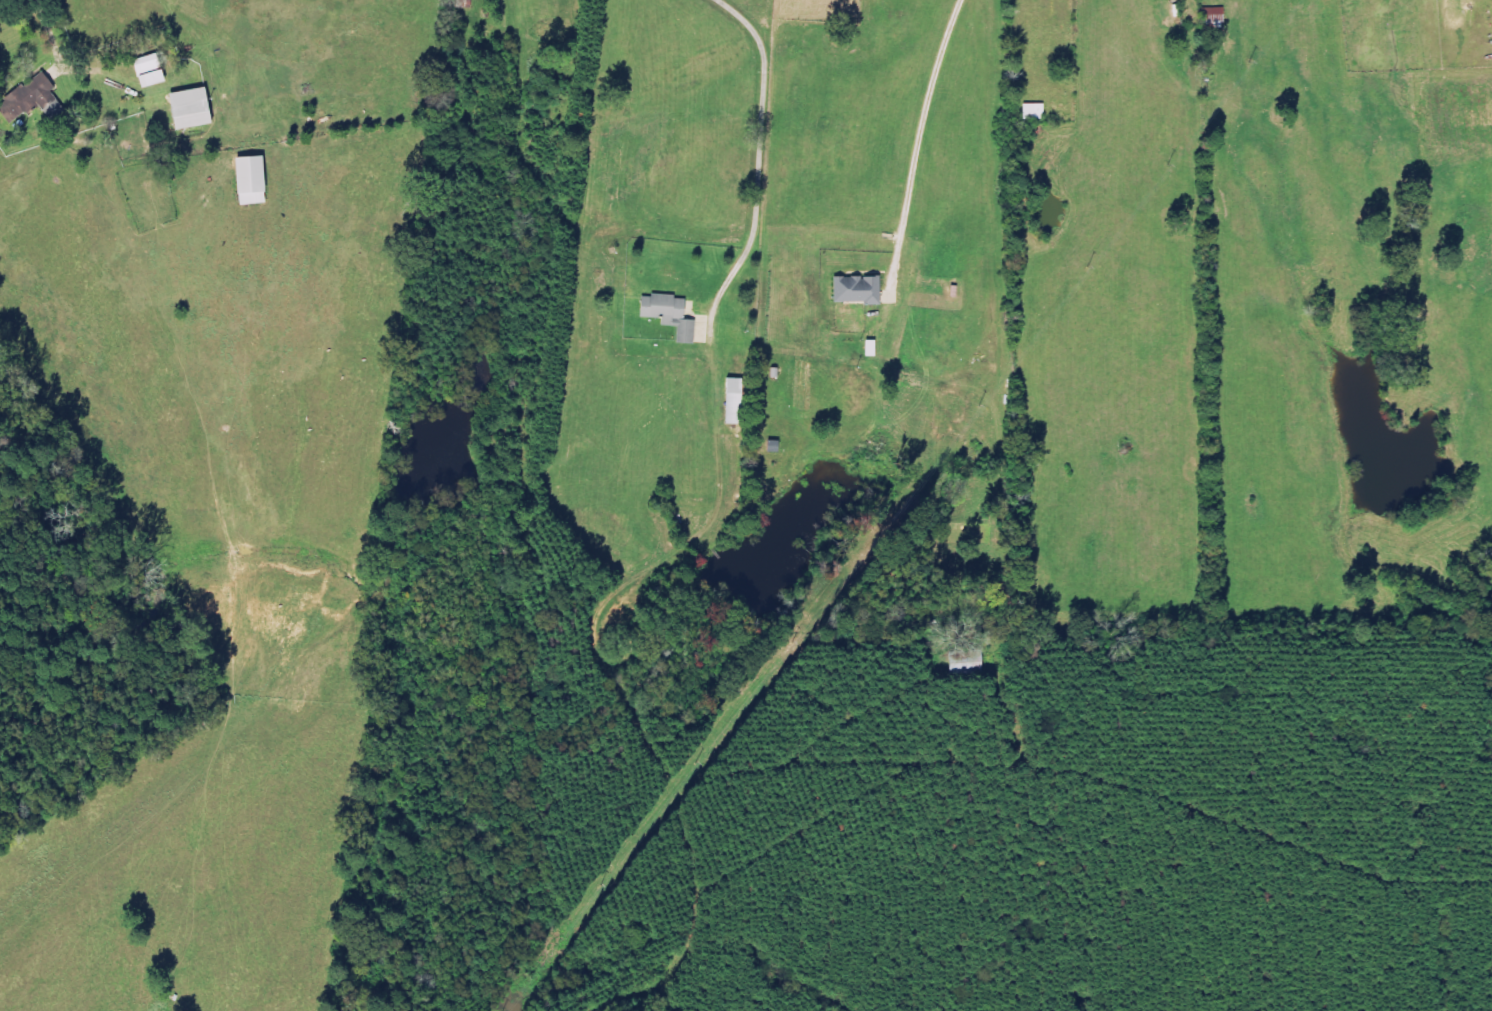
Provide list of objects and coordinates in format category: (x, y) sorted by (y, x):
building: (37, 99)
building: (197, 108)
building: (1039, 111)
road: (759, 145)
building: (257, 180)
building: (862, 289)
building: (675, 314)
building: (877, 348)
building: (740, 401)

